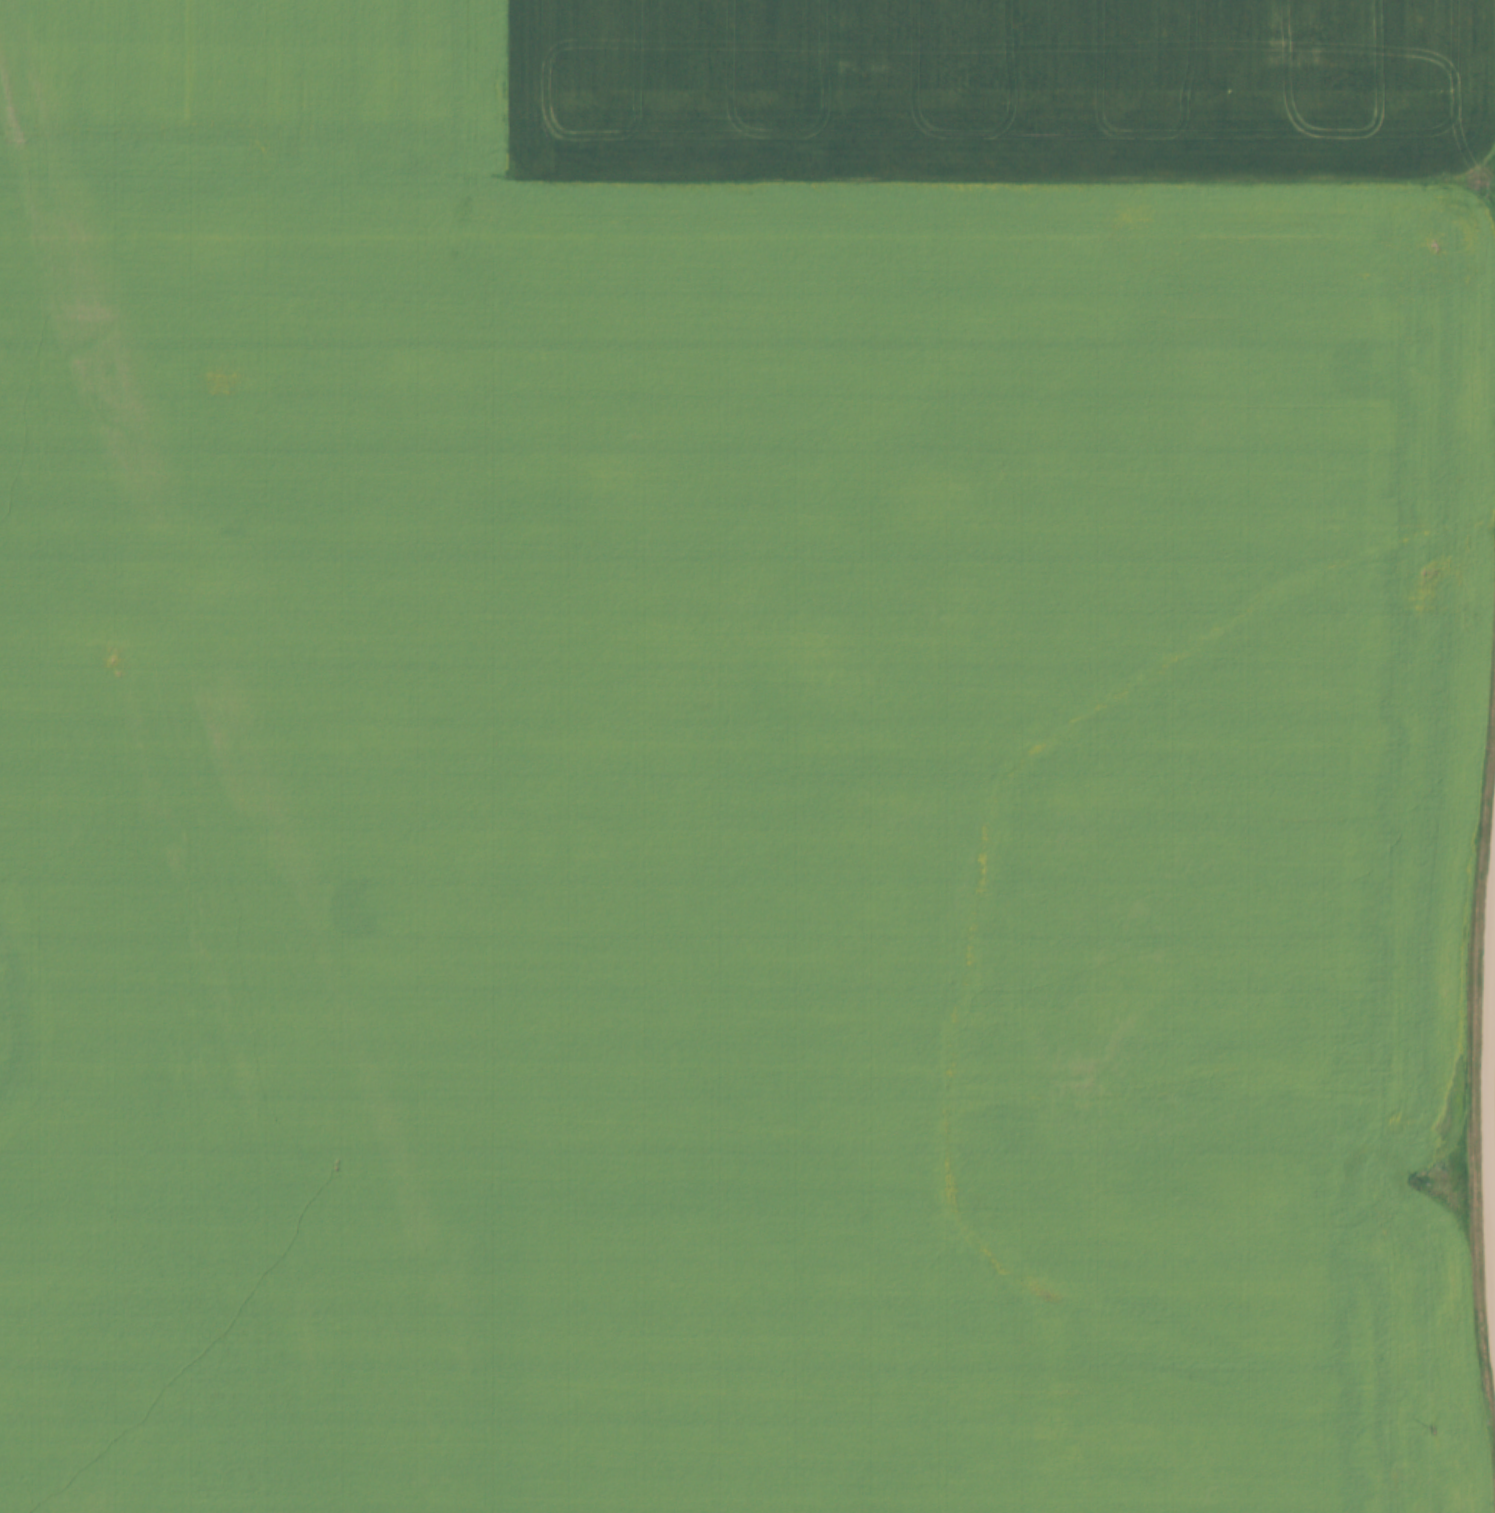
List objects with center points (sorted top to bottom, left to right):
road: (1493, 1082)

